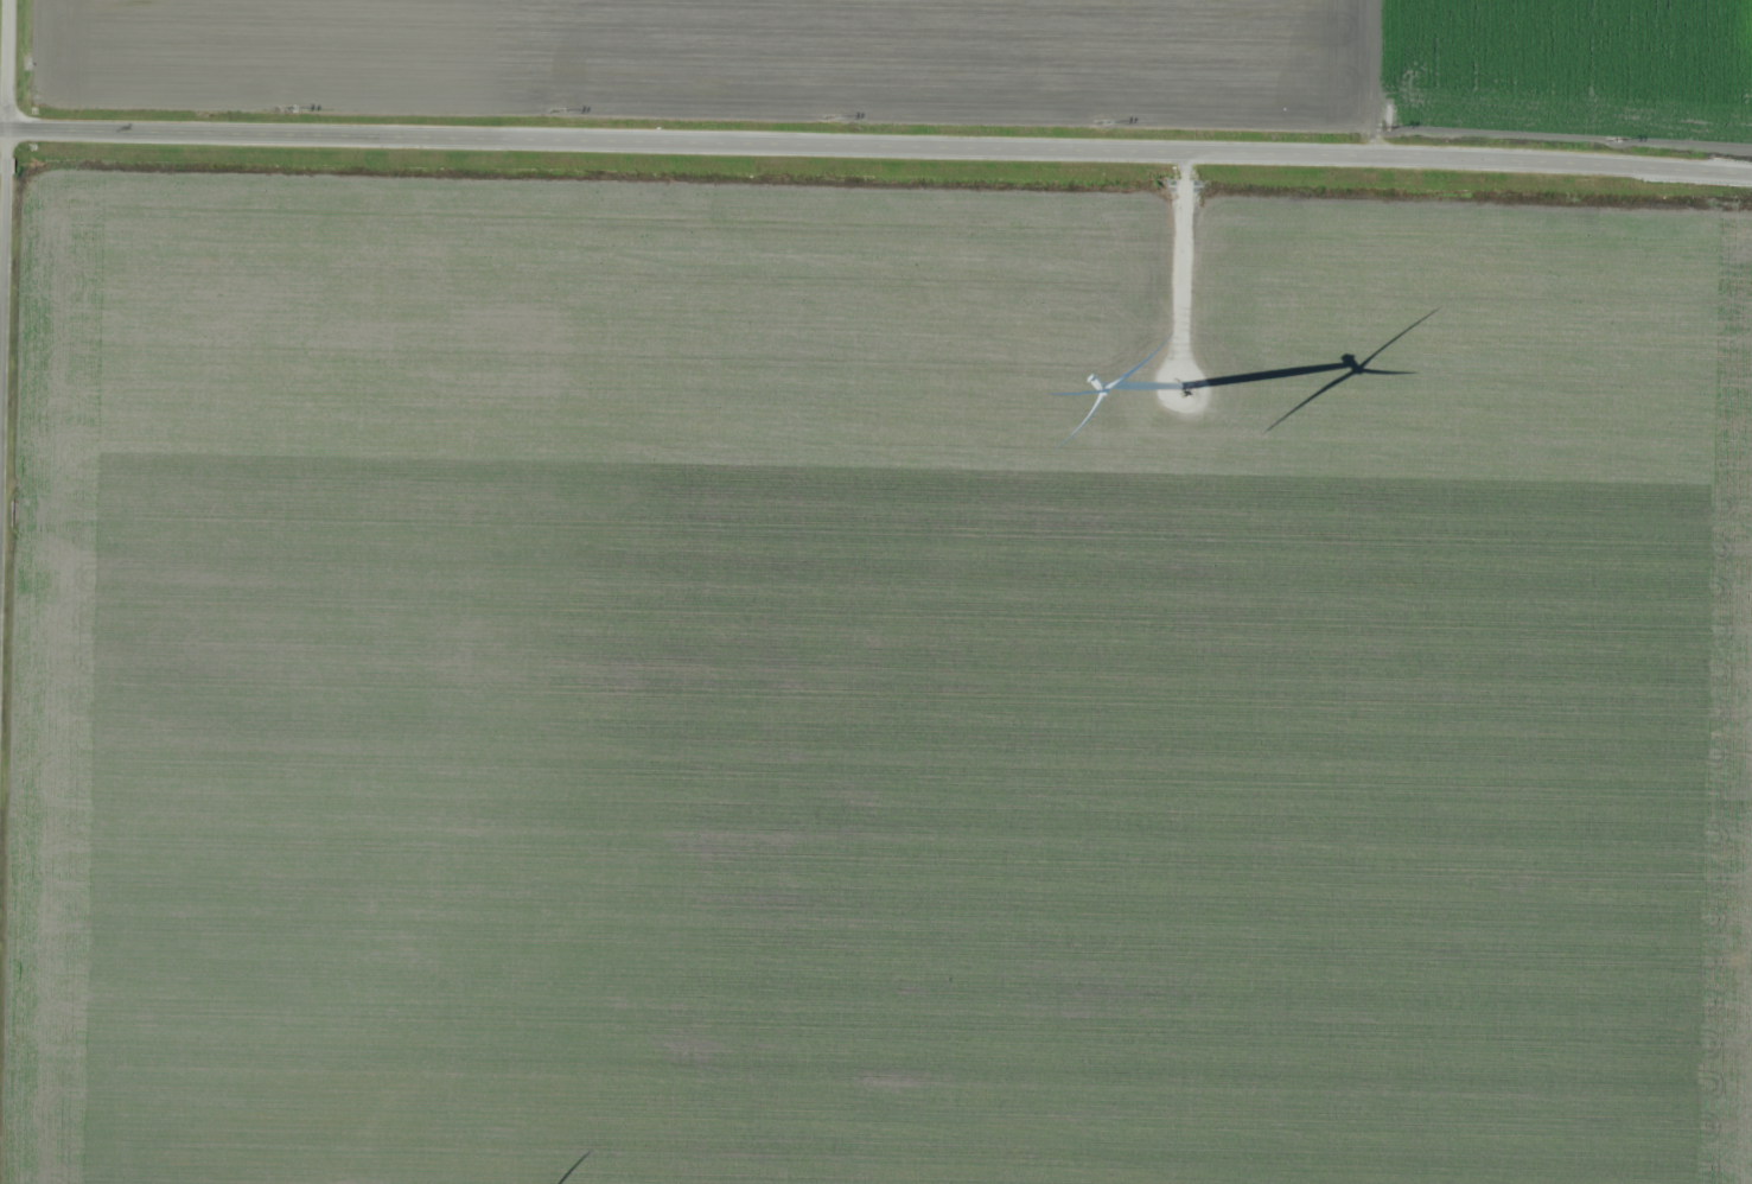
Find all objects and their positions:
road: (0, 33)
road: (875, 148)
wind turbine: (1177, 368)

